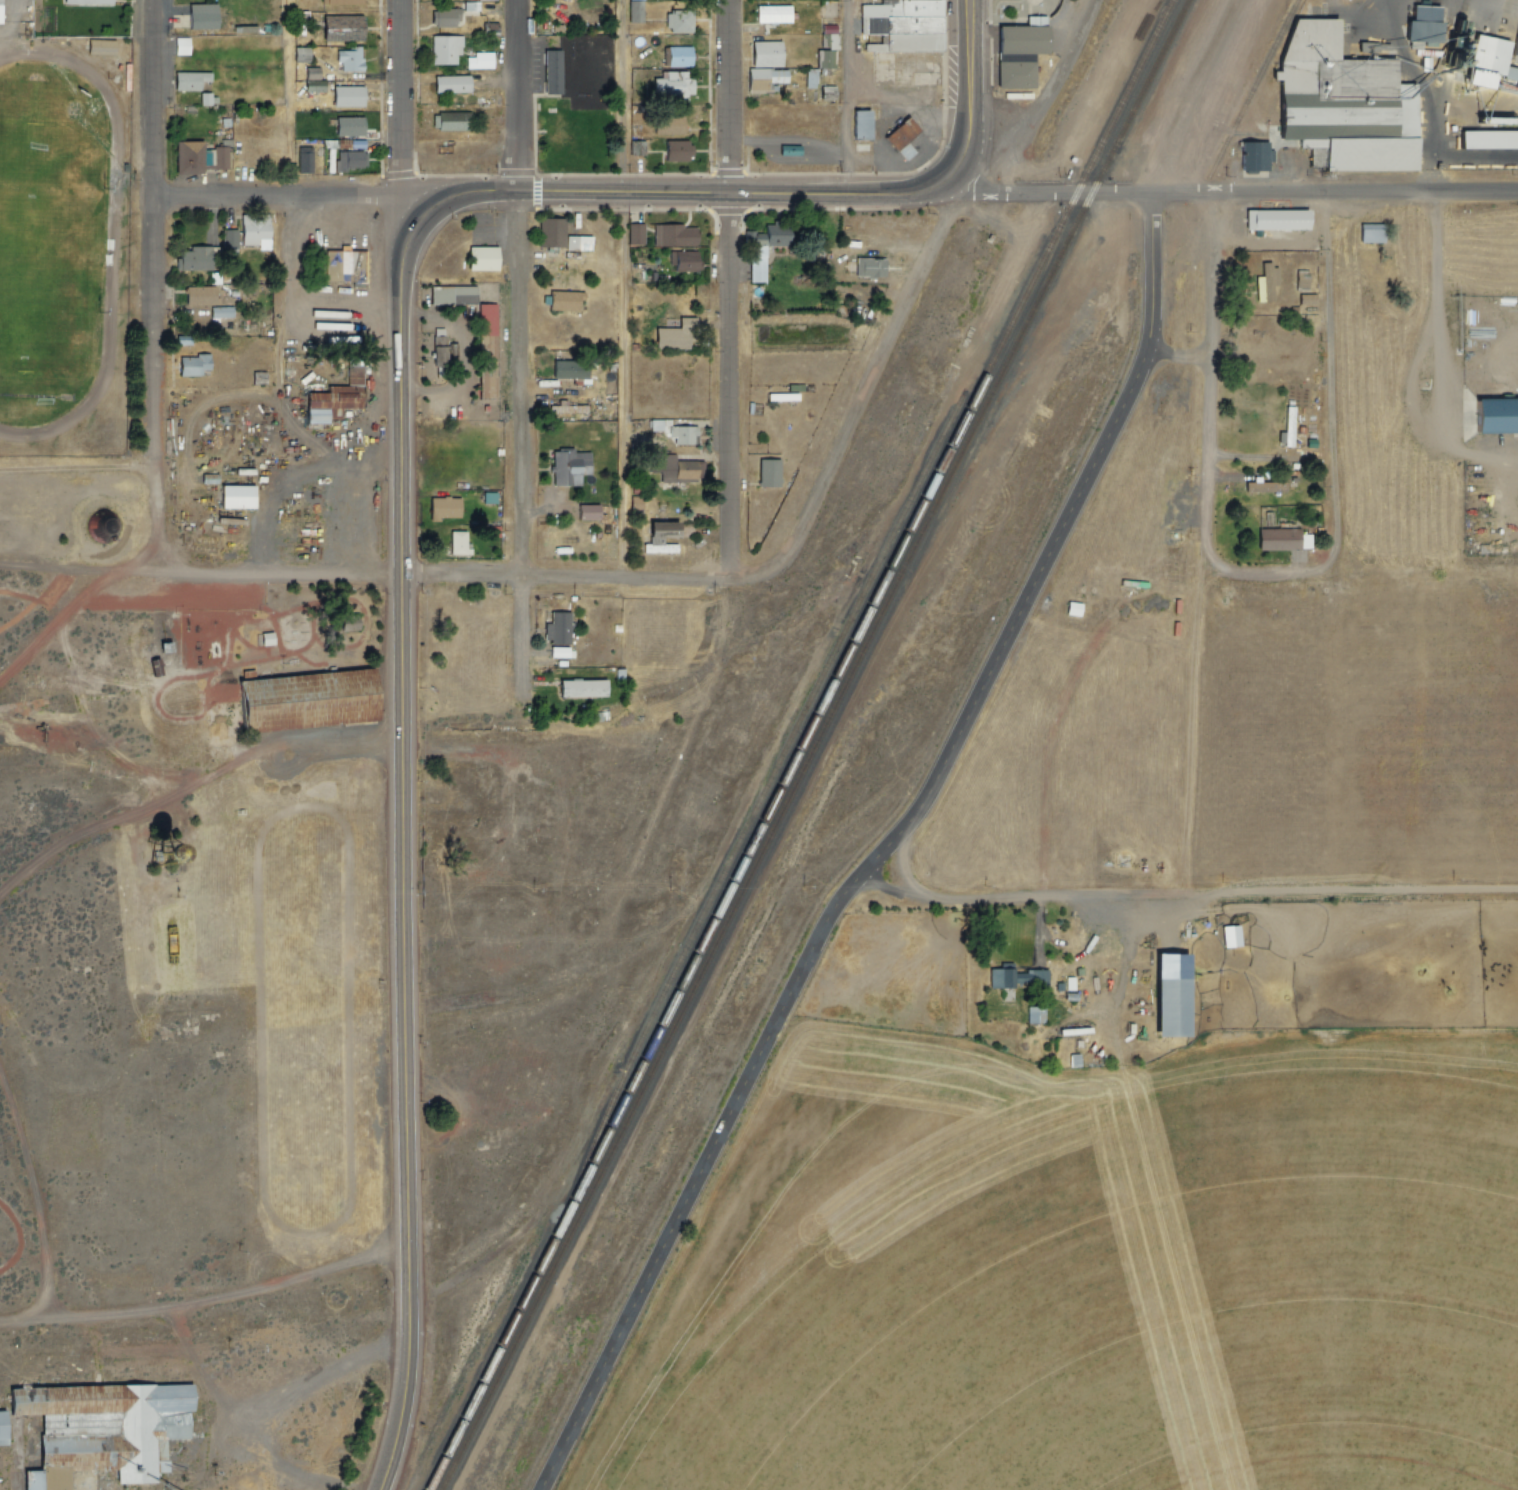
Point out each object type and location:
building: (486, 0)
building: (86, 1)
building: (343, 1)
flagpole: (1033, 1)
building: (633, 10)
building: (0, 11)
building: (772, 12)
park: (1030, 13)
building: (201, 15)
building: (445, 16)
building: (679, 20)
building: (1037, 24)
building: (903, 25)
building: (488, 26)
building: (341, 28)
building: (1430, 35)
building: (827, 41)
building: (179, 45)
building: (101, 46)
building: (443, 48)
building: (766, 52)
building: (299, 54)
building: (677, 55)
building: (1016, 57)
building: (349, 59)
building: (477, 59)
building: (825, 59)
building: (1493, 60)
building: (550, 70)
building: (122, 76)
building: (189, 79)
building: (808, 79)
building: (764, 80)
building: (449, 82)
building: (667, 83)
building: (313, 84)
building: (825, 91)
building: (347, 96)
building: (204, 98)
road: (842, 99)
road: (1052, 99)
building: (1348, 107)
building: (188, 108)
road: (970, 118)
building: (452, 120)
building: (348, 125)
building: (670, 125)
building: (864, 128)
building: (903, 137)
road: (395, 141)
building: (1490, 145)
building: (635, 146)
building: (675, 149)
building: (793, 154)
building: (907, 155)
building: (188, 156)
building: (219, 157)
building: (349, 158)
building: (303, 161)
road: (310, 187)
road: (1210, 192)
road: (683, 195)
building: (1280, 219)
building: (254, 229)
building: (1371, 231)
building: (551, 232)
building: (633, 232)
building: (672, 233)
building: (778, 233)
building: (228, 237)
park: (48, 238)
building: (578, 241)
building: (482, 256)
building: (194, 257)
building: (685, 261)
building: (754, 262)
building: (343, 264)
building: (865, 264)
road: (1150, 270)
building: (1300, 278)
building: (1268, 282)
road: (155, 286)
road: (623, 288)
road: (728, 290)
building: (451, 293)
building: (200, 294)
building: (562, 298)
building: (712, 303)
building: (220, 310)
building: (685, 320)
building: (670, 337)
building: (184, 341)
building: (486, 350)
building: (438, 352)
road: (517, 362)
building: (195, 366)
building: (568, 367)
building: (353, 369)
building: (257, 376)
road: (877, 385)
building: (781, 396)
building: (329, 402)
building: (565, 410)
building: (1497, 421)
building: (1290, 429)
building: (684, 433)
building: (445, 446)
building: (568, 464)
building: (684, 467)
building: (767, 472)
building: (1261, 488)
building: (489, 496)
building: (239, 498)
building: (444, 505)
building: (587, 510)
building: (664, 528)
building: (458, 541)
building: (1279, 544)
building: (657, 547)
road: (201, 572)
road: (596, 577)
road: (1199, 605)
building: (1074, 609)
building: (556, 626)
building: (614, 627)
building: (561, 651)
building: (616, 674)
building: (582, 686)
building: (306, 699)
road: (403, 712)
railway: (811, 744)
railway: (795, 745)
building: (482, 775)
road: (189, 782)
building: (446, 804)
building: (487, 827)
building: (521, 827)
road: (1185, 897)
road: (831, 911)
building: (1232, 936)
building: (1018, 978)
building: (1173, 994)
building: (1037, 1015)
road: (35, 1195)
road: (206, 1302)
road: (410, 1375)
building: (2, 1424)
building: (103, 1429)

